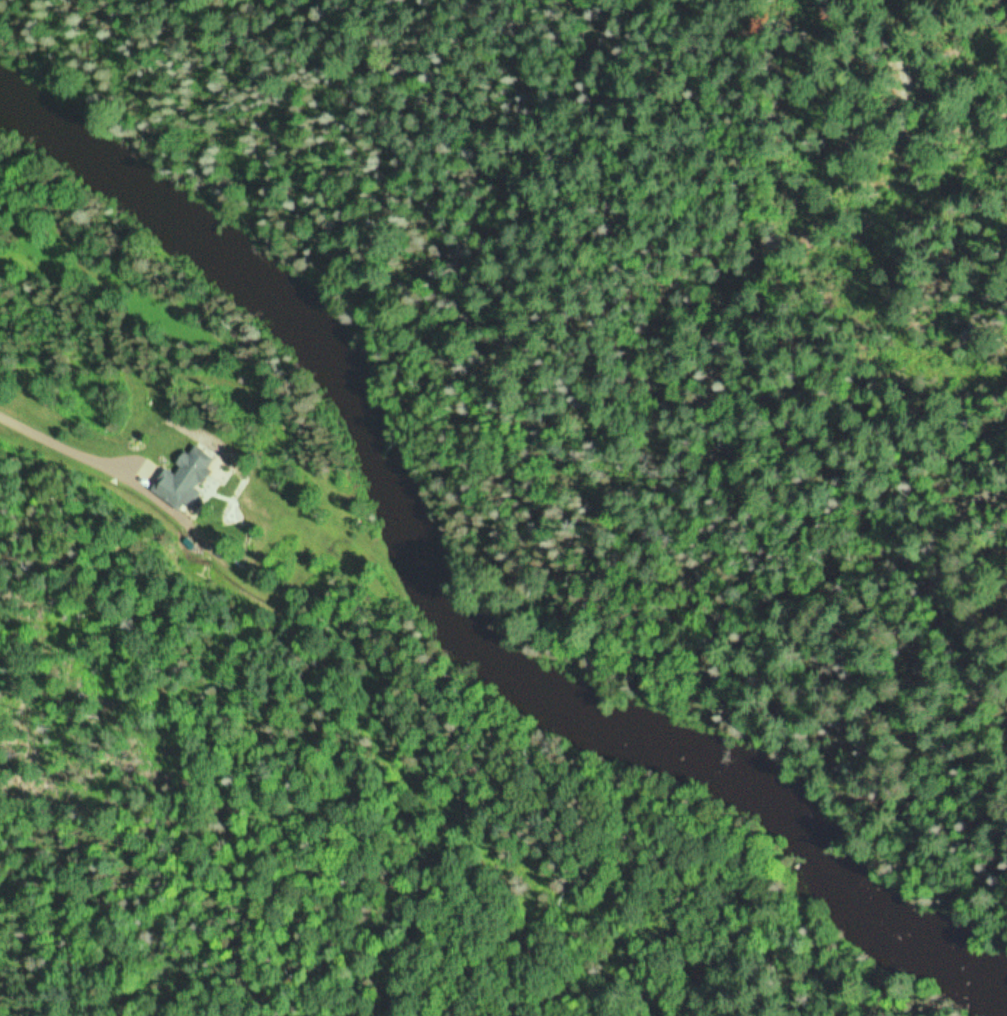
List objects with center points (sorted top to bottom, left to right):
building: (187, 478)
river: (453, 623)

